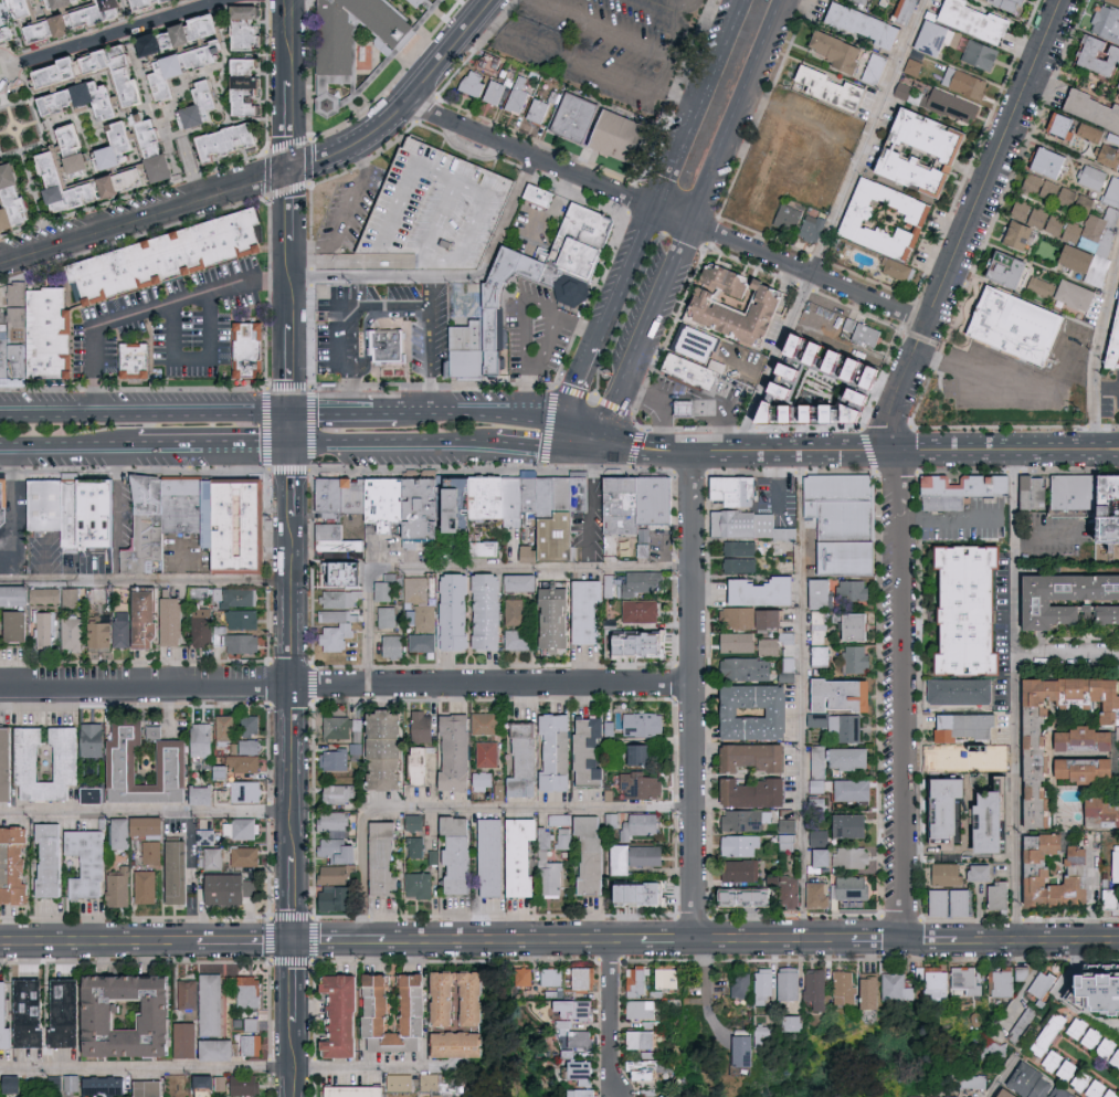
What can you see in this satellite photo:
building: (70, 1)
building: (420, 1)
building: (854, 1)
building: (1113, 1)
building: (151, 2)
road: (675, 4)
building: (994, 4)
building: (31, 7)
road: (300, 8)
building: (104, 11)
building: (965, 19)
building: (71, 22)
building: (855, 23)
building: (1104, 23)
building: (250, 25)
building: (204, 27)
building: (49, 29)
road: (125, 31)
building: (357, 31)
building: (926, 36)
road: (627, 38)
building: (165, 40)
road: (579, 40)
parking lot: (599, 48)
building: (826, 49)
building: (1091, 54)
building: (977, 55)
road: (12, 65)
building: (186, 66)
building: (868, 67)
building: (125, 68)
building: (65, 70)
road: (617, 80)
building: (474, 82)
building: (1115, 83)
building: (250, 85)
building: (496, 92)
building: (519, 96)
building: (88, 98)
road: (405, 102)
building: (204, 103)
building: (539, 110)
building: (1089, 110)
building: (579, 116)
building: (626, 135)
building: (232, 139)
building: (125, 144)
building: (83, 148)
building: (163, 149)
road: (473, 149)
building: (908, 150)
road: (28, 160)
building: (1041, 162)
road: (675, 168)
building: (1088, 177)
building: (130, 180)
building: (73, 184)
building: (1, 192)
building: (538, 196)
building: (20, 199)
parking lot: (345, 203)
building: (1064, 205)
building: (1118, 208)
building: (430, 211)
road: (666, 211)
road: (147, 214)
road: (694, 215)
building: (848, 215)
road: (352, 217)
building: (790, 217)
building: (1033, 217)
road: (969, 223)
road: (294, 224)
road: (832, 225)
building: (812, 228)
building: (1068, 232)
building: (1012, 235)
building: (580, 241)
building: (165, 256)
building: (1070, 259)
building: (891, 268)
building: (996, 268)
road: (453, 275)
building: (729, 277)
building: (570, 292)
building: (1057, 292)
road: (429, 293)
building: (334, 300)
parking lot: (636, 304)
road: (391, 306)
road: (152, 307)
building: (494, 310)
building: (747, 312)
road: (521, 314)
road: (348, 317)
road: (367, 320)
building: (1005, 325)
road: (581, 327)
building: (17, 334)
road: (629, 334)
building: (1109, 334)
building: (469, 335)
building: (51, 337)
building: (867, 341)
building: (813, 342)
road: (546, 348)
building: (386, 350)
building: (827, 350)
building: (703, 351)
building: (250, 352)
road: (196, 357)
road: (1099, 357)
building: (1115, 357)
building: (847, 358)
building: (138, 361)
road: (429, 362)
building: (866, 366)
park: (601, 373)
building: (890, 373)
building: (694, 377)
road: (584, 379)
building: (790, 383)
road: (349, 384)
road: (1108, 389)
road: (524, 392)
road: (662, 402)
road: (708, 402)
building: (869, 403)
building: (687, 407)
road: (147, 412)
traffic signals: (294, 412)
road: (334, 412)
road: (386, 412)
road: (462, 412)
building: (824, 412)
building: (685, 414)
road: (547, 419)
traffic signals: (569, 424)
road: (588, 429)
traffic signals: (608, 433)
road: (567, 437)
road: (623, 441)
road: (605, 443)
road: (1118, 445)
road: (392, 446)
road: (923, 446)
road: (1118, 446)
road: (651, 449)
road: (678, 449)
traffic signals: (694, 449)
road: (707, 449)
road: (726, 449)
traffic signals: (293, 450)
road: (210, 451)
road: (64, 452)
road: (527, 452)
traffic signals: (564, 452)
road: (579, 452)
road: (621, 452)
road: (598, 454)
traffic signals: (603, 454)
building: (740, 491)
building: (965, 491)
building: (1024, 492)
building: (1036, 497)
building: (1078, 497)
building: (335, 498)
building: (486, 498)
building: (46, 500)
building: (384, 500)
building: (638, 500)
building: (4, 502)
building: (186, 504)
road: (12, 505)
building: (97, 506)
building: (456, 506)
building: (423, 508)
building: (546, 510)
road: (592, 511)
building: (72, 514)
road: (293, 516)
building: (239, 517)
road: (949, 517)
building: (846, 520)
building: (147, 523)
building: (758, 526)
building: (331, 530)
road: (1048, 539)
building: (487, 548)
building: (344, 549)
building: (741, 556)
road: (478, 569)
building: (525, 581)
road: (147, 582)
building: (387, 588)
building: (419, 589)
building: (856, 590)
building: (767, 591)
building: (201, 592)
building: (826, 592)
building: (17, 594)
building: (47, 594)
building: (236, 595)
building: (73, 597)
building: (339, 598)
building: (611, 598)
building: (956, 609)
building: (458, 610)
building: (492, 610)
building: (643, 610)
building: (517, 611)
building: (150, 616)
building: (389, 616)
building: (560, 616)
building: (740, 616)
building: (245, 618)
building: (427, 618)
building: (772, 618)
building: (176, 620)
building: (20, 625)
building: (863, 625)
building: (209, 627)
building: (822, 627)
building: (49, 629)
building: (338, 629)
building: (113, 632)
building: (75, 633)
building: (789, 636)
building: (518, 639)
building: (424, 641)
building: (244, 642)
building: (740, 642)
building: (648, 644)
building: (395, 645)
building: (771, 646)
road: (1068, 654)
building: (826, 655)
building: (858, 657)
building: (748, 668)
building: (790, 669)
road: (292, 675)
road: (346, 684)
building: (952, 690)
road: (902, 692)
road: (1018, 692)
road: (694, 693)
road: (803, 693)
building: (848, 694)
building: (759, 711)
building: (820, 718)
building: (487, 722)
building: (646, 724)
building: (251, 725)
building: (424, 726)
building: (973, 726)
building: (345, 727)
building: (943, 727)
building: (228, 728)
building: (849, 728)
building: (204, 738)
building: (1075, 738)
building: (95, 739)
building: (252, 746)
building: (389, 748)
building: (358, 749)
building: (593, 749)
building: (458, 751)
building: (560, 751)
building: (489, 753)
building: (644, 753)
building: (758, 756)
building: (939, 756)
building: (854, 757)
building: (336, 759)
building: (528, 760)
building: (31, 762)
building: (246, 762)
building: (8, 763)
building: (176, 763)
building: (422, 763)
building: (224, 769)
building: (1074, 769)
building: (821, 777)
building: (484, 780)
building: (644, 787)
building: (856, 790)
building: (249, 791)
building: (758, 792)
building: (340, 793)
building: (96, 794)
building: (205, 794)
road: (467, 805)
building: (931, 805)
building: (1098, 810)
road: (146, 811)
building: (1063, 812)
building: (562, 819)
building: (748, 819)
building: (614, 820)
building: (416, 821)
building: (972, 822)
building: (856, 824)
building: (152, 825)
building: (643, 825)
building: (243, 827)
building: (125, 832)
building: (789, 833)
building: (208, 836)
building: (339, 837)
building: (566, 837)
building: (821, 837)
building: (742, 844)
building: (416, 846)
building: (1035, 847)
building: (155, 851)
building: (595, 853)
road: (293, 854)
building: (462, 854)
building: (525, 855)
building: (249, 856)
building: (496, 856)
building: (847, 856)
building: (217, 857)
building: (638, 857)
building: (53, 858)
building: (387, 859)
building: (92, 862)
building: (1117, 864)
building: (17, 865)
building: (552, 868)
building: (743, 869)
building: (181, 871)
building: (977, 872)
building: (336, 874)
building: (941, 874)
building: (1027, 879)
building: (421, 884)
building: (149, 886)
building: (122, 887)
building: (854, 887)
building: (232, 888)
building: (790, 888)
building: (646, 893)
building: (820, 894)
building: (991, 895)
building: (753, 896)
building: (339, 897)
building: (1112, 899)
building: (943, 903)
traffic signals: (293, 938)
road: (705, 938)
road: (146, 939)
building: (526, 975)
building: (556, 975)
building: (1105, 977)
building: (587, 978)
building: (669, 978)
building: (960, 980)
building: (640, 981)
road: (709, 982)
building: (792, 982)
building: (929, 982)
building: (996, 983)
building: (745, 984)
building: (768, 984)
building: (821, 988)
building: (849, 988)
building: (895, 988)
building: (252, 991)
building: (877, 993)
building: (1080, 993)
building: (190, 998)
building: (381, 1002)
building: (478, 1003)
building: (213, 1004)
building: (645, 1009)
building: (72, 1012)
building: (577, 1012)
building: (35, 1013)
building: (347, 1014)
building: (7, 1016)
building: (141, 1017)
road: (294, 1017)
road: (613, 1017)
building: (652, 1023)
building: (799, 1023)
building: (1043, 1034)
building: (252, 1035)
building: (769, 1035)
building: (584, 1038)
building: (645, 1038)
building: (1118, 1043)
building: (463, 1044)
building: (749, 1048)
building: (220, 1049)
building: (1113, 1057)
road: (236, 1066)
park: (840, 1067)
building: (582, 1068)
building: (648, 1068)
building: (0, 1077)
road: (1001, 1079)
building: (969, 1080)
building: (402, 1082)
building: (434, 1082)
building: (1023, 1082)
building: (74, 1083)
building: (17, 1084)
building: (247, 1084)
building: (212, 1085)
building: (107, 1086)
building: (1086, 1086)
building: (151, 1088)
building: (358, 1090)
building: (585, 1093)
building: (995, 1093)
building: (1054, 1093)
building: (443, 1095)
building: (673, 1096)
building: (917, 1096)
building: (946, 1096)

